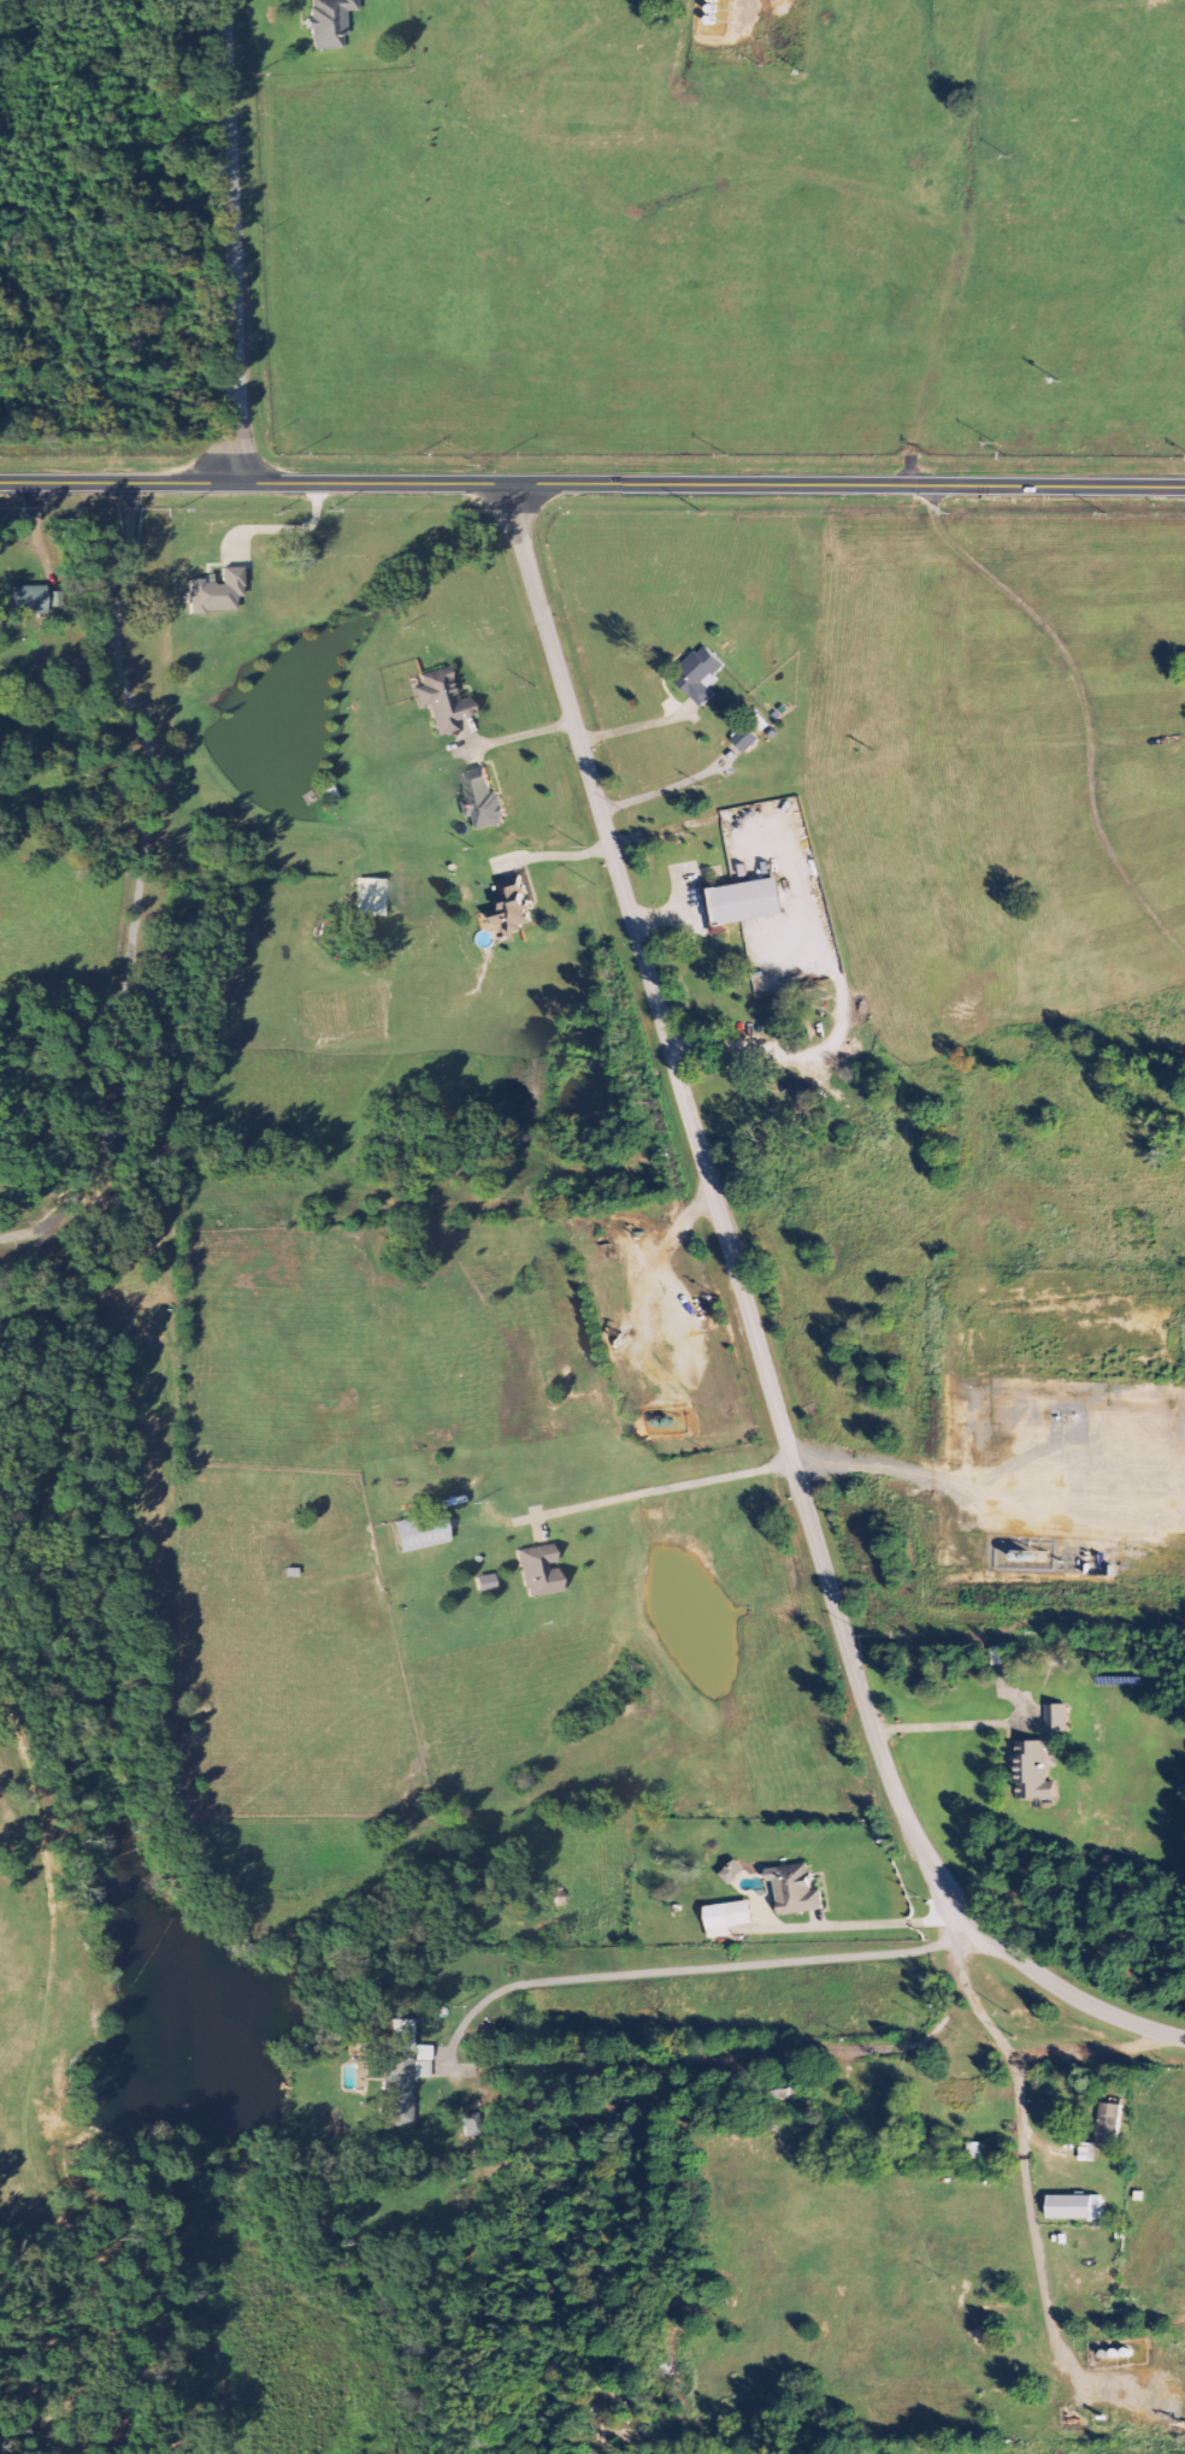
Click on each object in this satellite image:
road: (751, 16)
building: (331, 23)
road: (231, 242)
road: (591, 485)
building: (218, 592)
building: (33, 601)
building: (702, 674)
building: (446, 701)
building: (749, 739)
building: (485, 801)
building: (372, 898)
building: (747, 903)
building: (515, 905)
road: (644, 1280)
road: (753, 1329)
building: (423, 1533)
building: (542, 1571)
building: (488, 1583)
building: (1003, 1656)
building: (1060, 1718)
building: (1034, 1771)
building: (736, 1872)
building: (798, 1889)
building: (731, 1918)
road: (885, 1924)
building: (1112, 2124)
road: (1025, 2167)
building: (1078, 2208)

